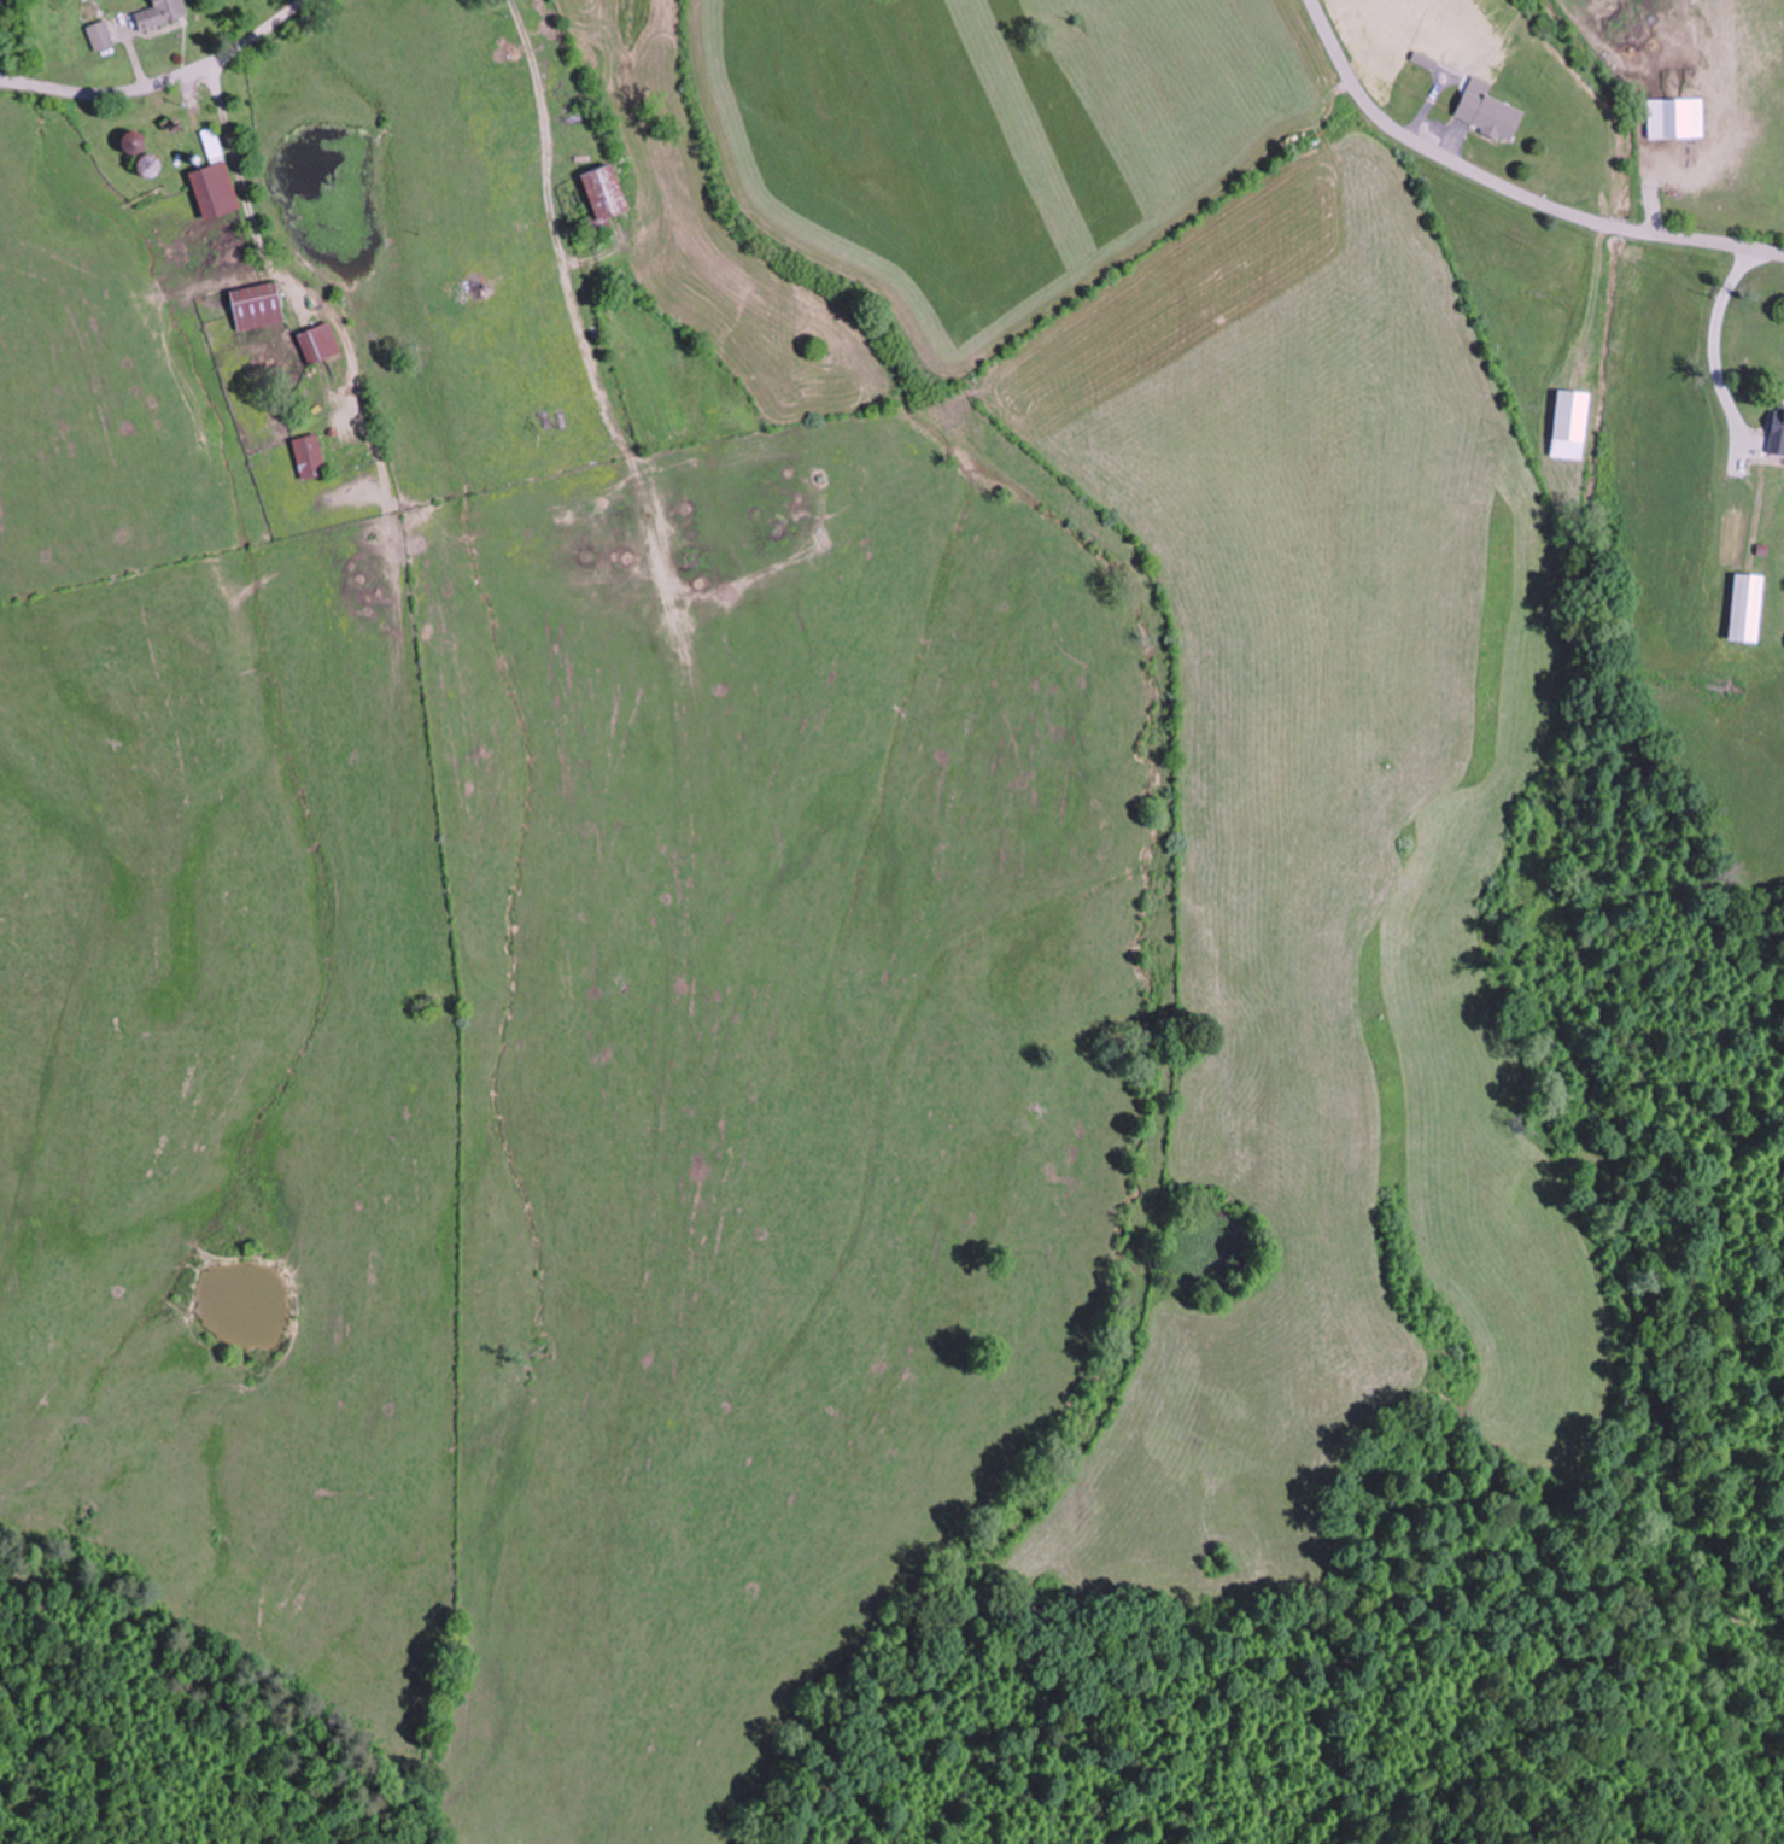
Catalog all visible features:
building: (156, 14)
building: (99, 35)
road: (166, 87)
building: (1488, 116)
building: (130, 142)
building: (146, 166)
building: (212, 181)
road: (1505, 188)
building: (602, 193)
building: (255, 306)
building: (318, 343)
building: (1777, 417)
building: (1569, 426)
building: (309, 456)
building: (1779, 491)
building: (1747, 602)
building: (1778, 645)

